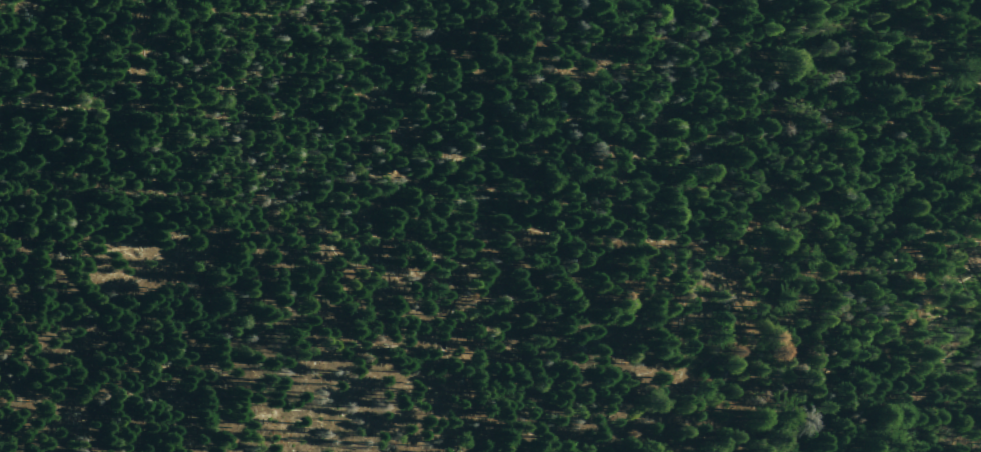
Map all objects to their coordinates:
road: (919, 395)
road: (684, 438)

